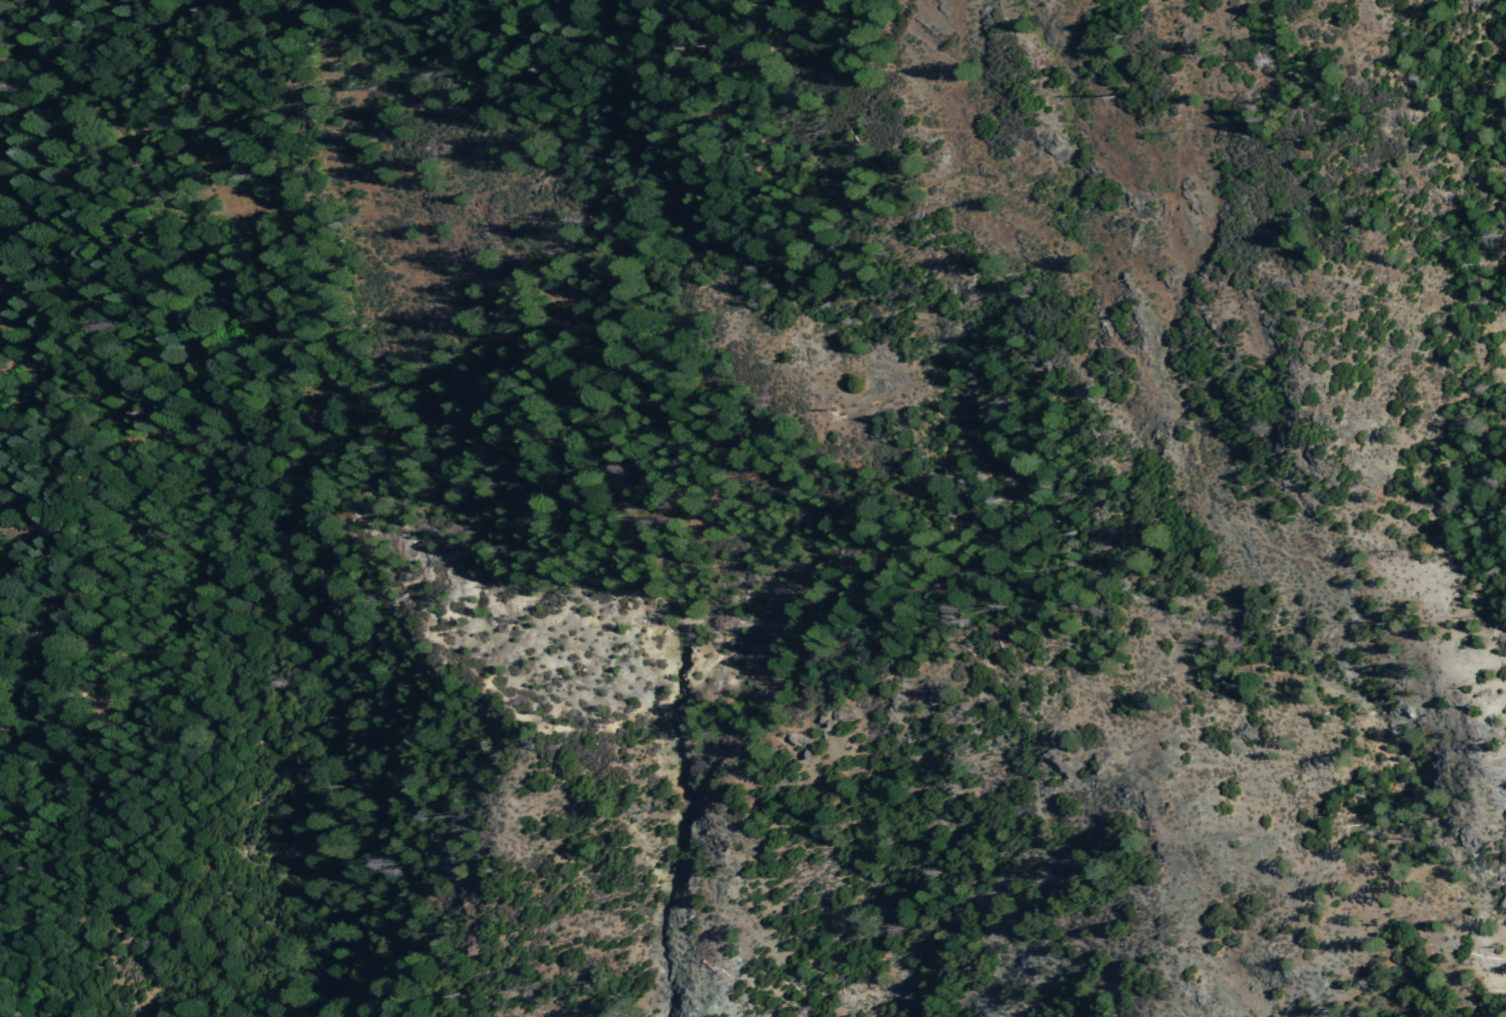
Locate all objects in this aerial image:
road: (102, 30)

